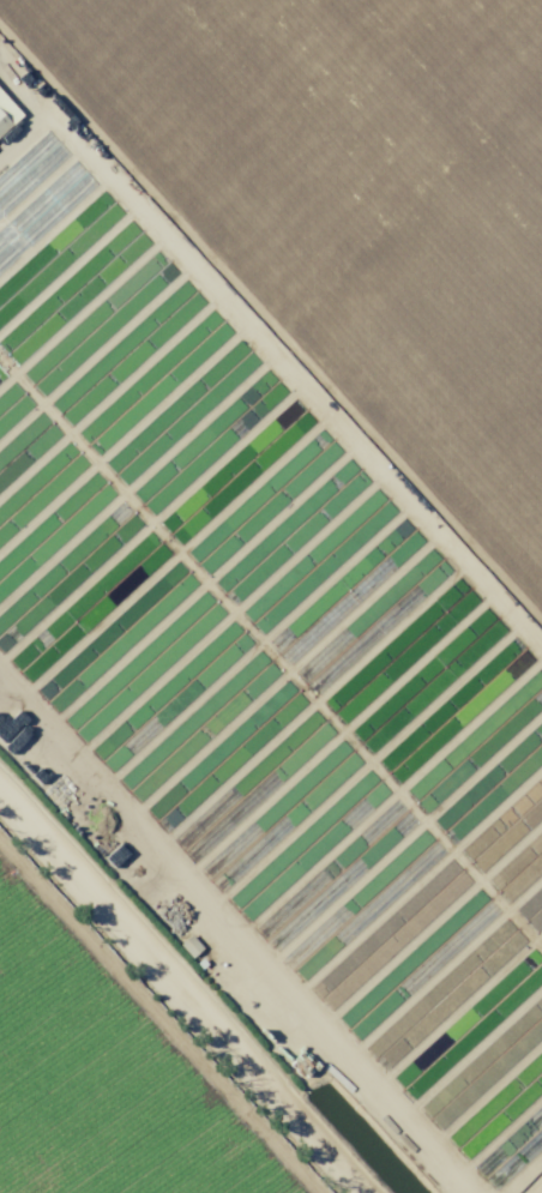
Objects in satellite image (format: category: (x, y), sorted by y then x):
road: (476, 68)
building: (5, 125)
crop: (349, 211)
building: (492, 626)
building: (41, 658)
road: (162, 1022)
crop: (120, 1052)

